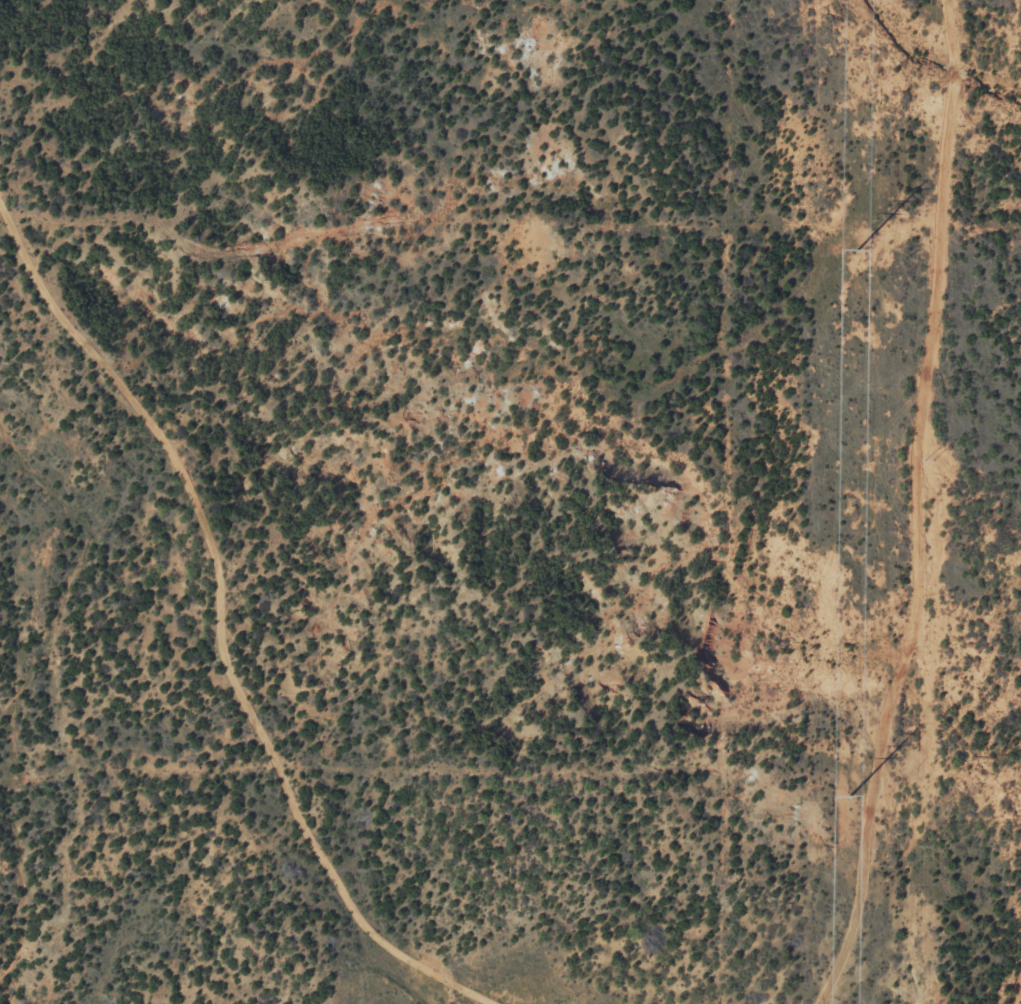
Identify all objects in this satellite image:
power tower: (933, 92)
power tower: (857, 249)
power tower: (928, 458)
road: (203, 658)
power tower: (850, 796)
power tower: (923, 844)

